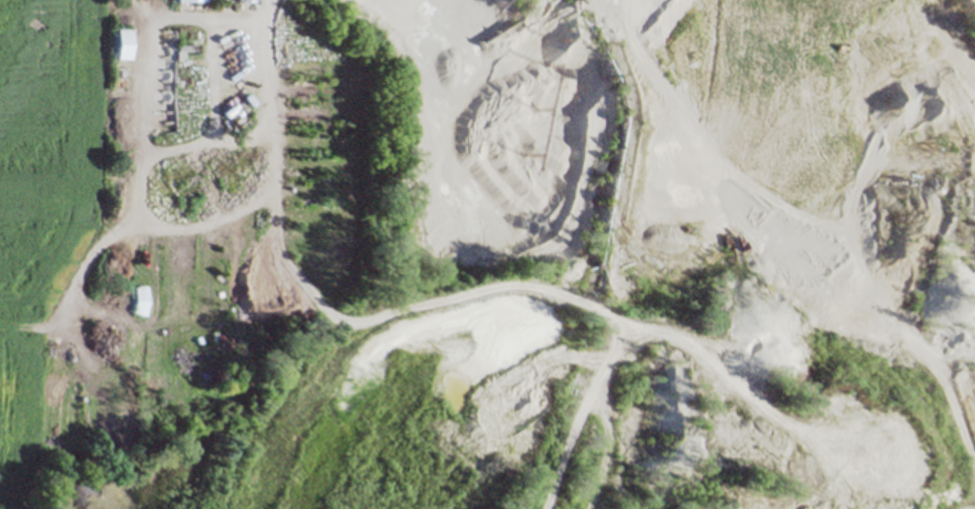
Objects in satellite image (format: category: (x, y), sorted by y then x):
building: (188, 0)
building: (246, 0)
road: (209, 17)
building: (122, 43)
quarry: (564, 275)

